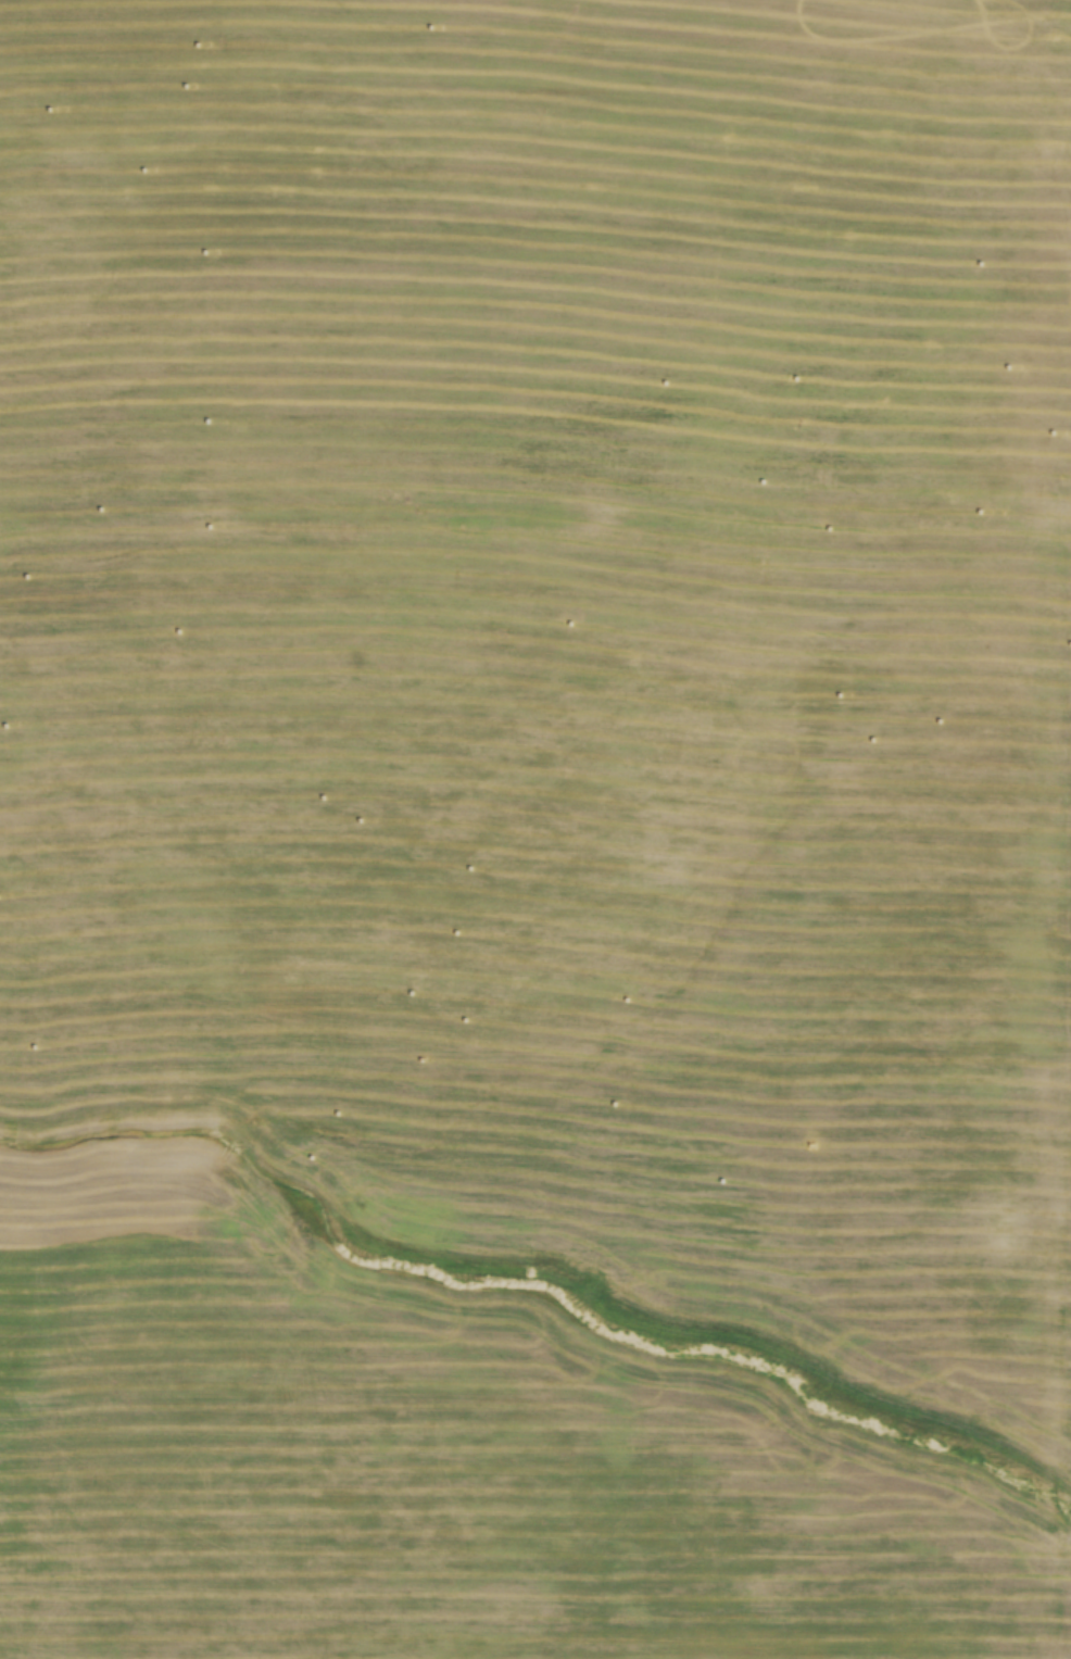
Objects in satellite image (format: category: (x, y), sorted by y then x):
road: (1058, 1314)

